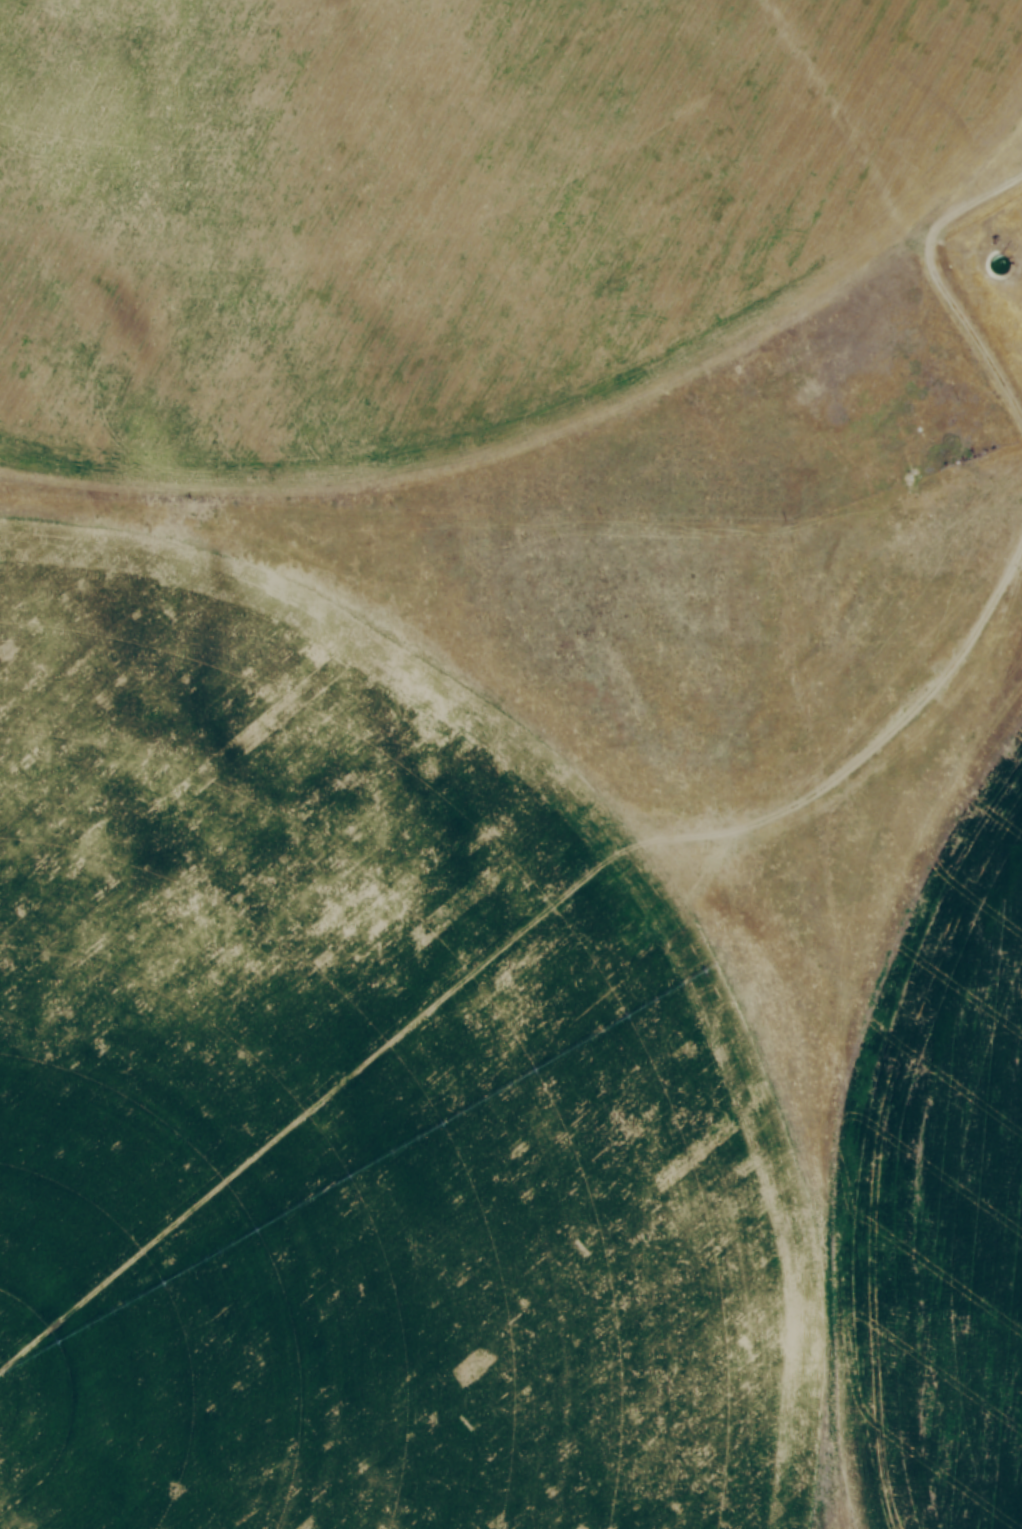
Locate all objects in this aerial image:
crop: (434, 211)
crop: (446, 1110)

